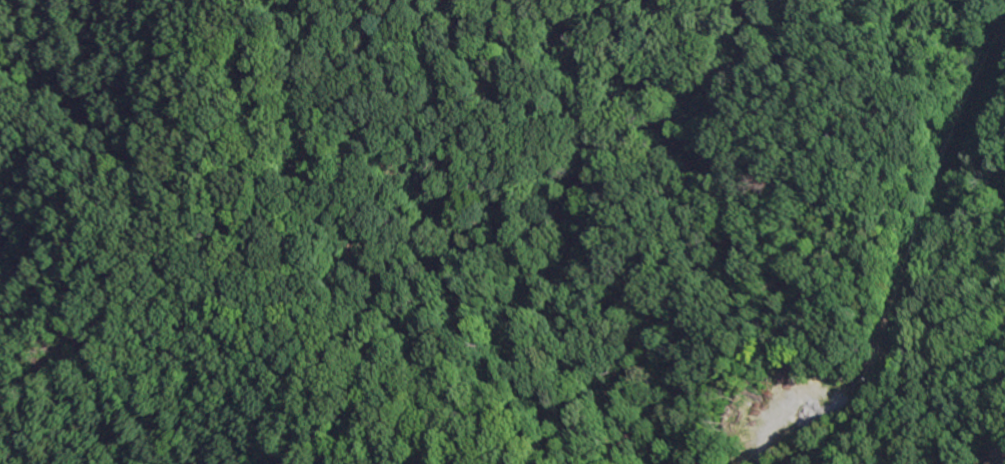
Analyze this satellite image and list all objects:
road: (256, 266)
road: (919, 414)

